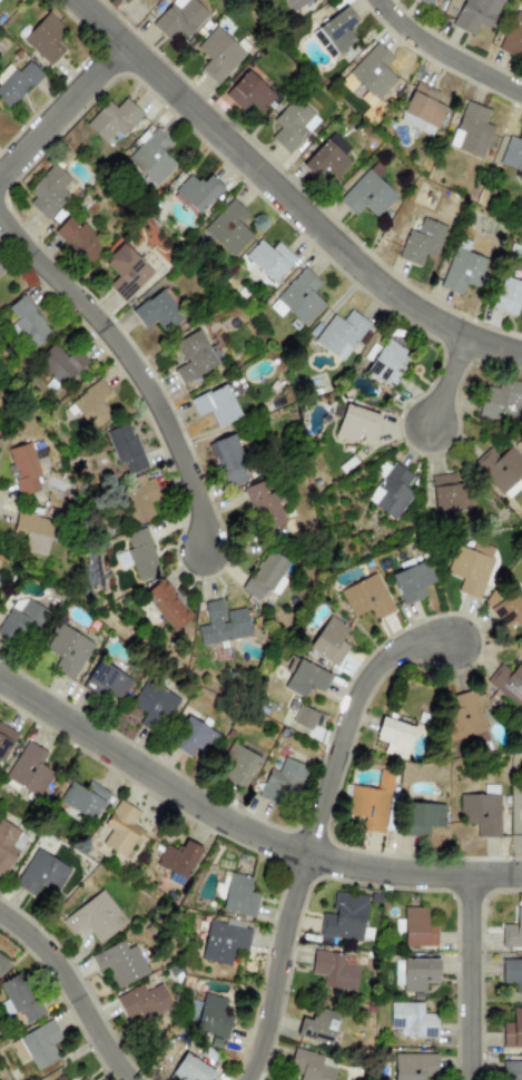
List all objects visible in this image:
building: (122, 1)
building: (423, 2)
building: (295, 3)
building: (474, 14)
building: (179, 18)
building: (335, 33)
building: (45, 38)
building: (512, 38)
road: (449, 48)
building: (218, 56)
building: (371, 72)
building: (17, 82)
building: (248, 92)
road: (63, 106)
building: (422, 110)
building: (112, 119)
building: (293, 125)
building: (472, 129)
building: (512, 155)
building: (152, 157)
building: (326, 163)
building: (48, 192)
building: (197, 192)
road: (288, 194)
building: (366, 195)
building: (228, 228)
building: (78, 239)
building: (421, 242)
building: (269, 259)
building: (2, 267)
building: (125, 272)
building: (463, 272)
building: (508, 296)
building: (298, 298)
building: (157, 311)
building: (28, 322)
building: (339, 334)
building: (193, 356)
road: (135, 362)
building: (386, 363)
building: (59, 364)
road: (453, 376)
building: (501, 400)
building: (92, 405)
building: (217, 405)
building: (355, 423)
building: (125, 448)
building: (228, 461)
building: (500, 468)
building: (23, 470)
building: (391, 491)
building: (451, 493)
building: (139, 499)
building: (263, 505)
building: (31, 533)
building: (141, 554)
building: (470, 568)
building: (265, 573)
building: (412, 581)
building: (366, 598)
building: (167, 605)
building: (509, 611)
building: (20, 621)
building: (223, 625)
building: (329, 641)
building: (68, 650)
building: (306, 679)
building: (106, 683)
building: (508, 684)
building: (154, 706)
building: (463, 715)
building: (304, 717)
building: (193, 737)
building: (394, 737)
building: (6, 740)
building: (237, 766)
building: (29, 769)
building: (284, 780)
building: (82, 802)
building: (480, 813)
building: (521, 814)
building: (421, 818)
road: (309, 825)
building: (119, 829)
road: (242, 829)
building: (9, 845)
building: (177, 862)
building: (41, 874)
building: (238, 896)
building: (95, 917)
building: (344, 917)
building: (417, 927)
building: (512, 931)
building: (221, 941)
building: (2, 961)
building: (119, 963)
building: (333, 970)
building: (512, 973)
building: (417, 974)
road: (469, 976)
road: (66, 992)
building: (18, 999)
building: (142, 1002)
building: (205, 1013)
building: (413, 1019)
building: (317, 1027)
building: (512, 1030)
building: (40, 1044)
building: (414, 1066)
building: (311, 1067)
building: (191, 1069)
building: (512, 1070)
building: (60, 1078)
building: (82, 1079)

